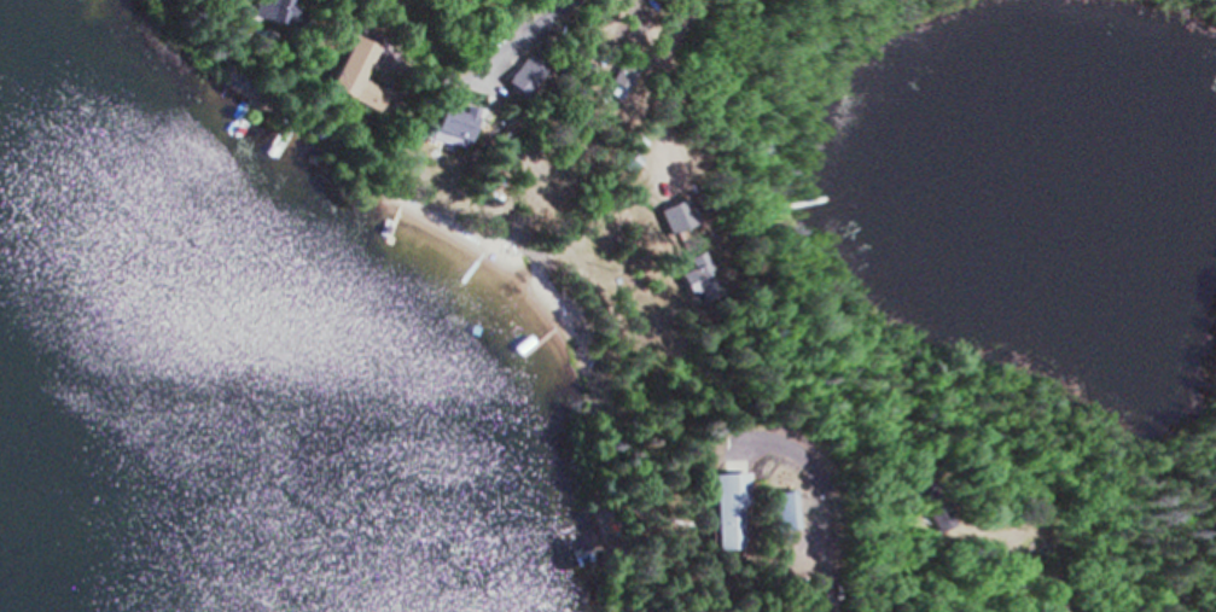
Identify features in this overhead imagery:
building: (257, 10)
road: (533, 17)
building: (617, 70)
building: (508, 72)
building: (338, 75)
building: (437, 124)
building: (626, 163)
building: (698, 208)
building: (674, 216)
building: (697, 276)
building: (920, 494)
building: (717, 503)
building: (775, 506)
road: (816, 548)
road: (1029, 577)

